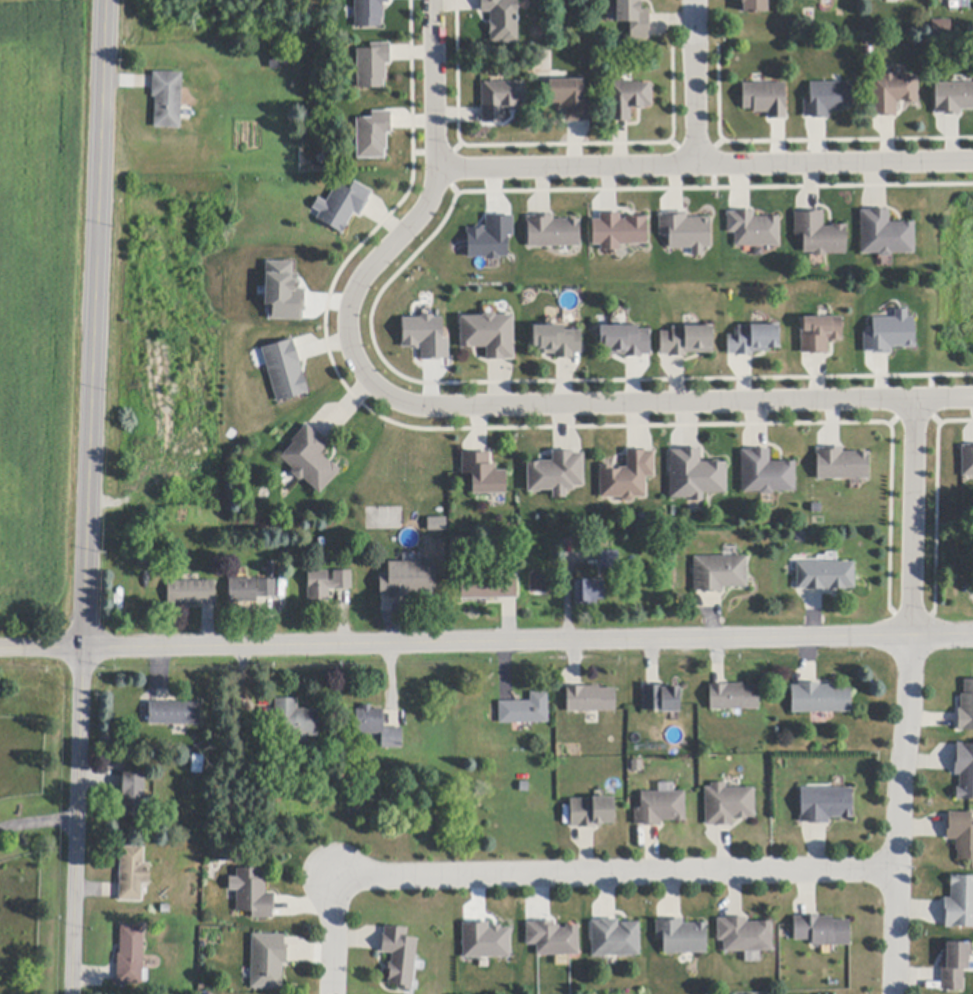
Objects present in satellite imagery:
building: (952, 0)
building: (754, 6)
building: (369, 13)
building: (634, 18)
building: (502, 20)
building: (939, 27)
building: (278, 59)
building: (371, 64)
road: (695, 82)
building: (892, 94)
building: (953, 98)
building: (167, 99)
building: (628, 99)
building: (766, 99)
building: (827, 99)
building: (501, 100)
building: (571, 100)
building: (371, 134)
road: (705, 163)
road: (437, 167)
building: (339, 205)
building: (753, 229)
building: (685, 230)
building: (619, 231)
building: (552, 232)
building: (820, 234)
building: (885, 235)
building: (489, 238)
building: (281, 292)
crop: (42, 304)
building: (889, 332)
building: (819, 334)
building: (424, 335)
building: (489, 335)
building: (753, 340)
building: (557, 341)
building: (625, 341)
building: (686, 341)
building: (283, 371)
road: (626, 404)
building: (310, 459)
building: (966, 459)
building: (842, 464)
building: (766, 473)
building: (484, 474)
building: (557, 474)
building: (695, 475)
building: (628, 477)
road: (88, 496)
building: (435, 522)
building: (151, 558)
building: (609, 560)
building: (719, 573)
building: (825, 576)
building: (408, 580)
building: (538, 582)
building: (327, 584)
building: (488, 587)
building: (250, 590)
building: (191, 592)
building: (588, 592)
road: (486, 642)
building: (734, 697)
road: (907, 697)
building: (591, 699)
building: (662, 699)
building: (820, 699)
building: (966, 708)
building: (525, 710)
building: (175, 714)
building: (297, 720)
building: (377, 727)
building: (964, 771)
building: (133, 794)
building: (728, 805)
building: (825, 805)
building: (660, 808)
building: (592, 812)
road: (38, 822)
building: (961, 834)
road: (614, 873)
building: (133, 874)
building: (253, 894)
building: (959, 903)
building: (822, 931)
road: (333, 935)
building: (745, 935)
building: (682, 937)
building: (553, 938)
building: (615, 938)
building: (485, 941)
building: (130, 957)
building: (399, 957)
building: (268, 961)
building: (955, 966)

